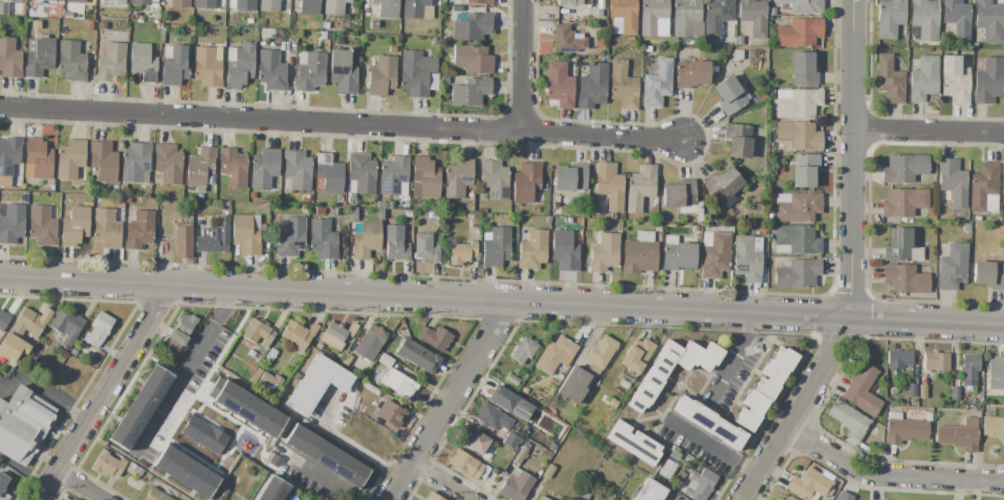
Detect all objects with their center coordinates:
building: (56, 0)
building: (76, 1)
building: (36, 2)
building: (115, 2)
building: (143, 2)
building: (479, 2)
building: (573, 2)
building: (179, 3)
building: (204, 4)
building: (242, 4)
building: (269, 5)
building: (803, 5)
building: (308, 6)
building: (334, 7)
building: (386, 8)
building: (4, 9)
building: (417, 9)
building: (771, 11)
building: (593, 13)
building: (67, 15)
building: (622, 16)
building: (685, 16)
building: (716, 16)
building: (753, 16)
building: (654, 18)
building: (890, 18)
building: (957, 18)
building: (924, 19)
building: (990, 19)
building: (249, 21)
building: (261, 23)
building: (35, 24)
building: (374, 24)
building: (324, 25)
building: (472, 27)
building: (800, 32)
building: (267, 33)
building: (324, 35)
building: (567, 39)
building: (739, 40)
building: (434, 41)
building: (630, 41)
building: (647, 49)
building: (392, 50)
building: (738, 55)
building: (40, 56)
building: (473, 58)
building: (9, 59)
building: (71, 61)
building: (144, 61)
building: (111, 62)
building: (175, 64)
building: (239, 64)
building: (208, 66)
road: (528, 67)
building: (713, 69)
building: (803, 69)
building: (271, 70)
building: (310, 70)
building: (343, 72)
building: (418, 73)
building: (691, 74)
building: (382, 76)
building: (923, 79)
building: (444, 80)
building: (890, 80)
building: (954, 80)
building: (988, 80)
building: (657, 84)
building: (559, 85)
building: (623, 85)
building: (592, 86)
building: (470, 91)
building: (771, 91)
building: (728, 95)
building: (797, 103)
building: (772, 125)
road: (341, 126)
road: (930, 132)
building: (797, 136)
building: (738, 140)
building: (9, 154)
building: (37, 159)
building: (70, 159)
road: (855, 159)
building: (103, 160)
building: (135, 162)
building: (168, 163)
building: (232, 167)
building: (264, 168)
building: (904, 168)
building: (200, 169)
building: (297, 169)
building: (805, 169)
building: (328, 174)
building: (361, 174)
building: (394, 176)
building: (457, 177)
building: (570, 177)
building: (1003, 177)
building: (425, 178)
building: (494, 179)
building: (526, 181)
building: (953, 181)
building: (609, 186)
building: (722, 187)
building: (114, 188)
building: (122, 188)
building: (984, 188)
building: (640, 190)
building: (25, 193)
building: (253, 195)
building: (680, 195)
building: (305, 198)
building: (96, 199)
building: (128, 200)
building: (904, 202)
building: (224, 203)
building: (391, 204)
building: (381, 205)
building: (796, 207)
building: (516, 209)
building: (320, 211)
building: (729, 213)
building: (408, 214)
building: (739, 217)
building: (977, 218)
building: (475, 221)
building: (487, 221)
building: (11, 223)
building: (333, 224)
building: (973, 224)
building: (42, 226)
building: (74, 226)
building: (107, 227)
building: (966, 227)
building: (695, 228)
building: (139, 230)
building: (761, 231)
building: (246, 233)
building: (291, 236)
building: (214, 238)
building: (365, 238)
building: (798, 238)
building: (322, 239)
building: (183, 240)
building: (396, 243)
building: (496, 246)
building: (901, 246)
building: (425, 248)
building: (533, 250)
building: (564, 250)
building: (462, 252)
building: (604, 252)
building: (639, 254)
building: (677, 254)
building: (715, 254)
building: (747, 257)
building: (952, 267)
building: (797, 273)
building: (989, 273)
building: (905, 279)
road: (425, 297)
building: (3, 319)
road: (928, 321)
building: (67, 326)
building: (182, 328)
building: (98, 329)
building: (22, 332)
building: (257, 332)
building: (299, 334)
building: (337, 334)
building: (434, 337)
building: (370, 341)
building: (388, 345)
building: (318, 347)
building: (522, 349)
building: (601, 351)
building: (72, 352)
building: (251, 353)
building: (271, 354)
building: (417, 355)
building: (636, 355)
building: (698, 356)
road: (728, 356)
building: (556, 357)
building: (345, 359)
building: (898, 359)
building: (385, 360)
building: (935, 361)
road: (182, 370)
building: (969, 370)
building: (996, 373)
building: (255, 375)
building: (654, 377)
building: (512, 379)
building: (269, 382)
building: (318, 383)
building: (399, 383)
building: (573, 385)
road: (39, 387)
building: (764, 387)
building: (893, 390)
building: (912, 390)
building: (863, 391)
building: (922, 391)
road: (103, 393)
building: (954, 394)
road: (450, 402)
building: (509, 402)
building: (888, 406)
building: (140, 407)
building: (246, 407)
road: (797, 408)
building: (985, 409)
building: (390, 413)
building: (492, 418)
building: (849, 419)
building: (707, 422)
building: (22, 424)
building: (992, 426)
building: (904, 429)
building: (202, 434)
building: (959, 435)
building: (511, 441)
building: (474, 442)
building: (634, 443)
building: (551, 447)
road: (712, 448)
building: (520, 455)
building: (326, 456)
building: (269, 457)
building: (107, 464)
building: (465, 464)
building: (690, 466)
building: (667, 469)
building: (483, 471)
building: (549, 471)
road: (22, 472)
building: (185, 472)
road: (888, 476)
road: (314, 479)
road: (442, 482)
building: (3, 483)
building: (700, 484)
road: (79, 485)
building: (517, 485)
building: (809, 485)
building: (273, 489)
building: (650, 491)
building: (156, 494)
building: (584, 495)
building: (670, 496)
building: (843, 496)
building: (431, 497)
building: (542, 498)
building: (790, 498)
building: (71, 499)
building: (74, 499)

